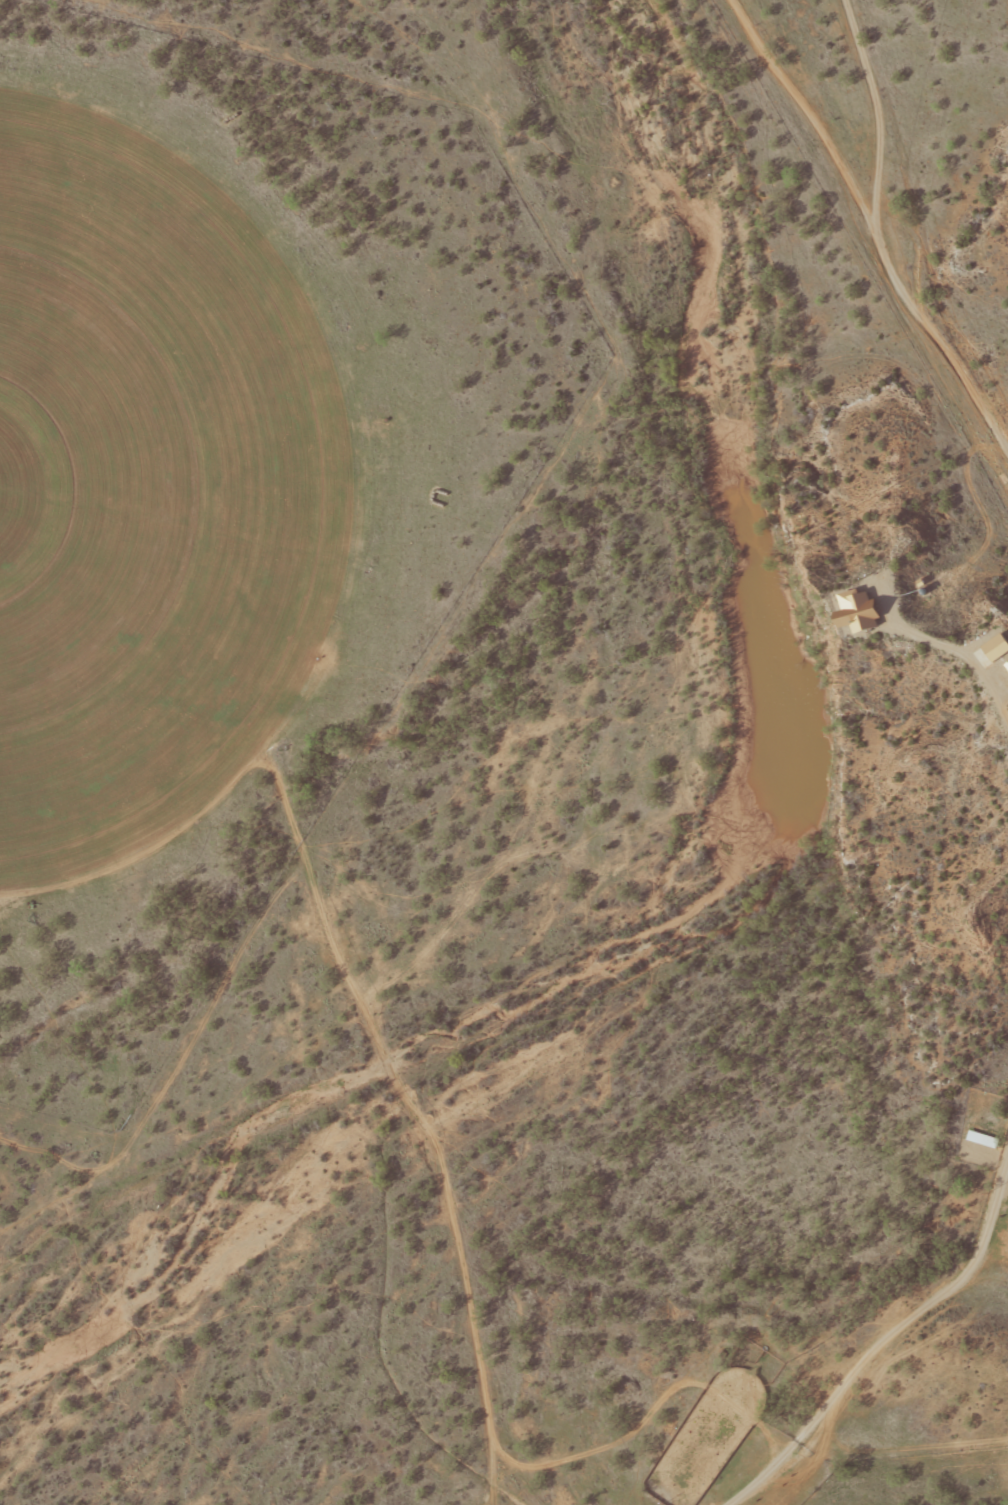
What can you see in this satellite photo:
road: (893, 238)
road: (972, 1158)
road: (839, 1378)

